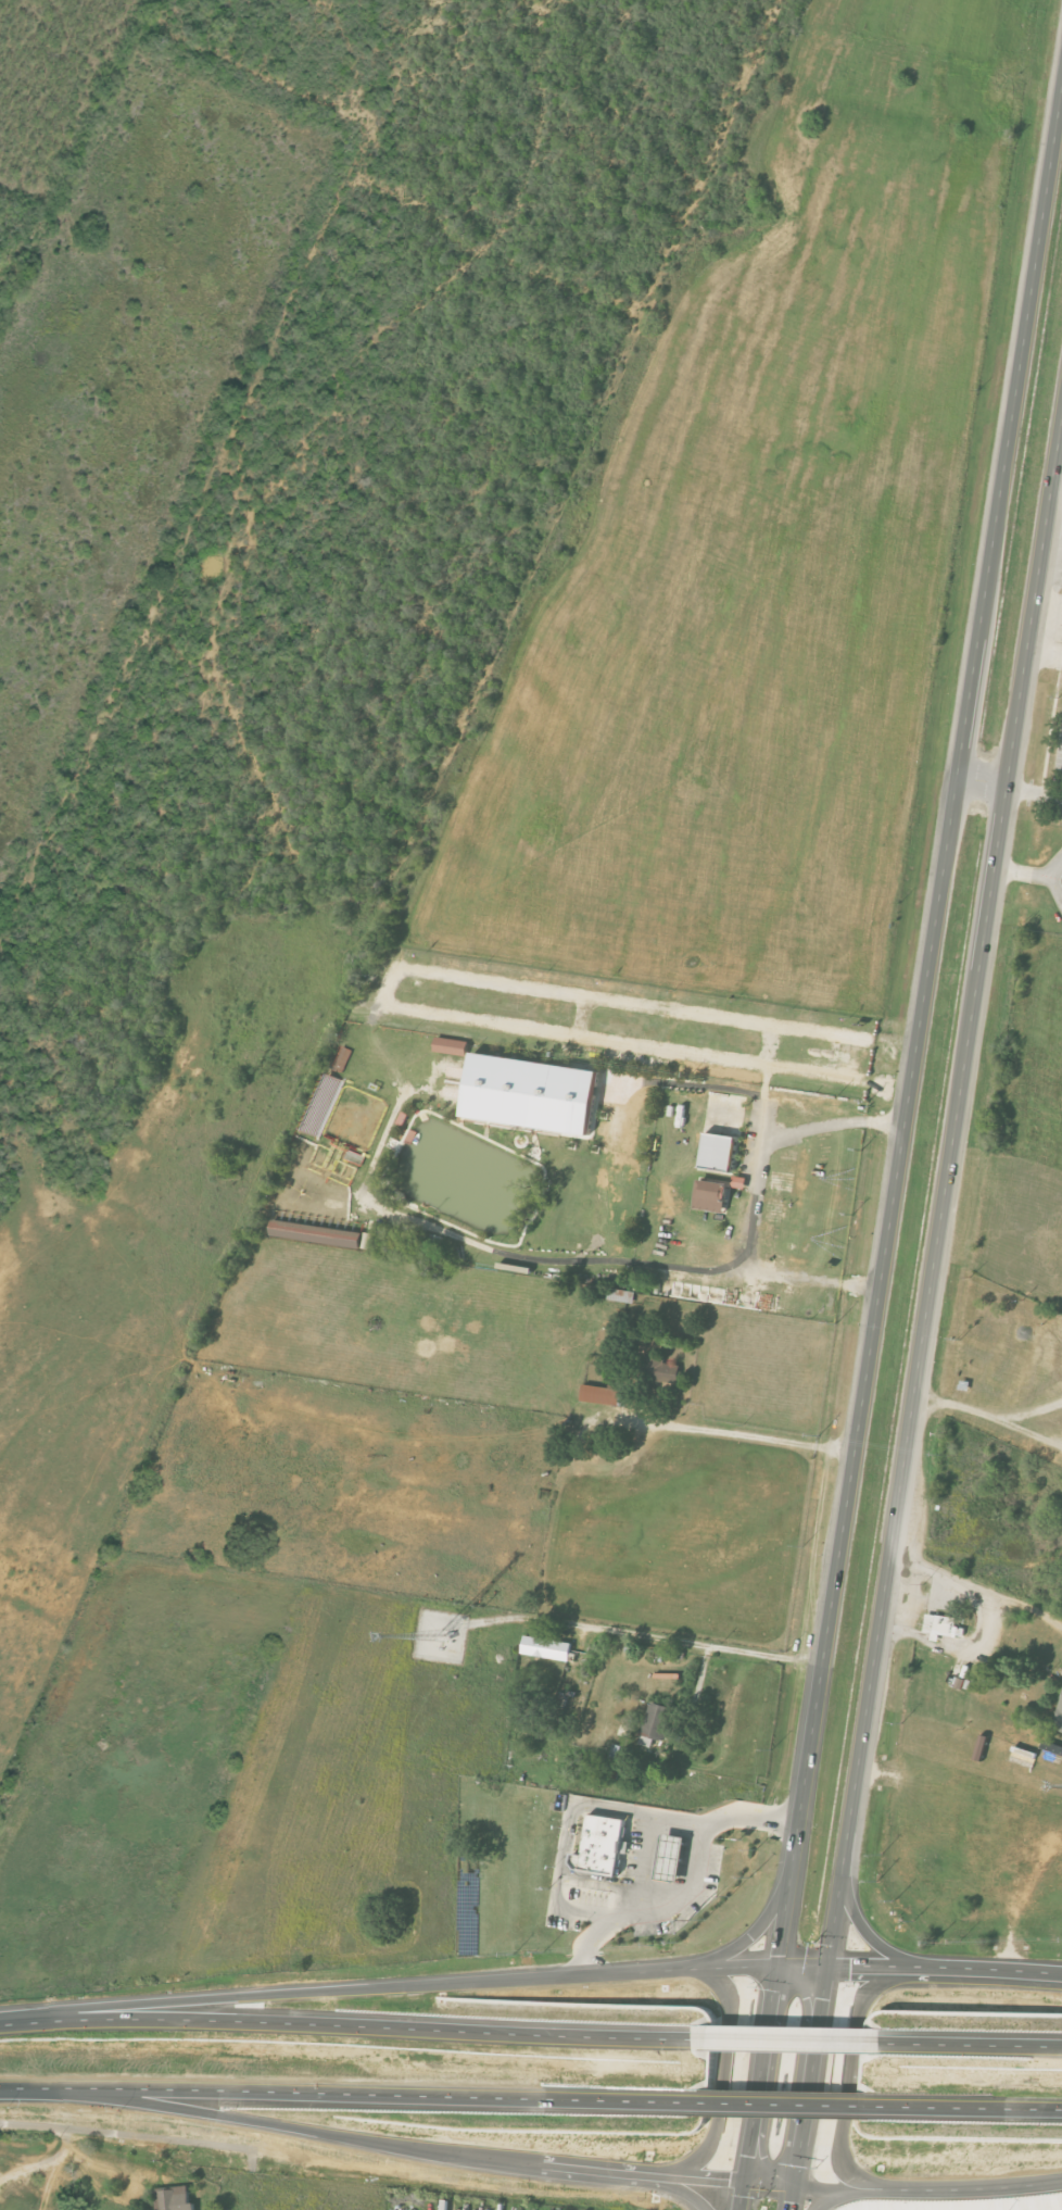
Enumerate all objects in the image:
road: (1047, 643)
road: (985, 782)
road: (1035, 794)
road: (1029, 875)
road: (922, 1031)
building: (452, 1046)
building: (532, 1094)
road: (835, 1123)
building: (719, 1151)
building: (739, 1182)
building: (711, 1195)
road: (945, 1204)
building: (316, 1234)
road: (754, 1265)
building: (661, 1370)
building: (602, 1395)
road: (1034, 1414)
road: (990, 1416)
road: (760, 1439)
road: (978, 1591)
building: (943, 1627)
road: (681, 1643)
building: (546, 1648)
building: (1059, 1720)
building: (656, 1723)
building: (982, 1748)
road: (697, 1766)
road: (574, 1816)
building: (600, 1845)
building: (672, 1859)
gas station: (672, 1859)
road: (641, 1868)
road: (690, 1887)
road: (864, 1929)
road: (754, 1932)
road: (808, 1964)
traffic signals: (829, 1964)
traffic signals: (780, 1966)
road: (1019, 1971)
road: (321, 1991)
road: (343, 2024)
road: (781, 2039)
road: (968, 2043)
road: (849, 2065)
road: (723, 2072)
road: (809, 2086)
road: (759, 2087)
road: (349, 2093)
road: (786, 2104)
road: (969, 2107)
road: (430, 2149)
road: (114, 2165)
road: (39, 2171)
traffic signals: (745, 2181)
road: (1053, 2181)
traffic signals: (795, 2185)
road: (823, 2186)
road: (860, 2188)
road: (957, 2188)
road: (684, 2189)
road: (831, 2196)
building: (174, 2199)

